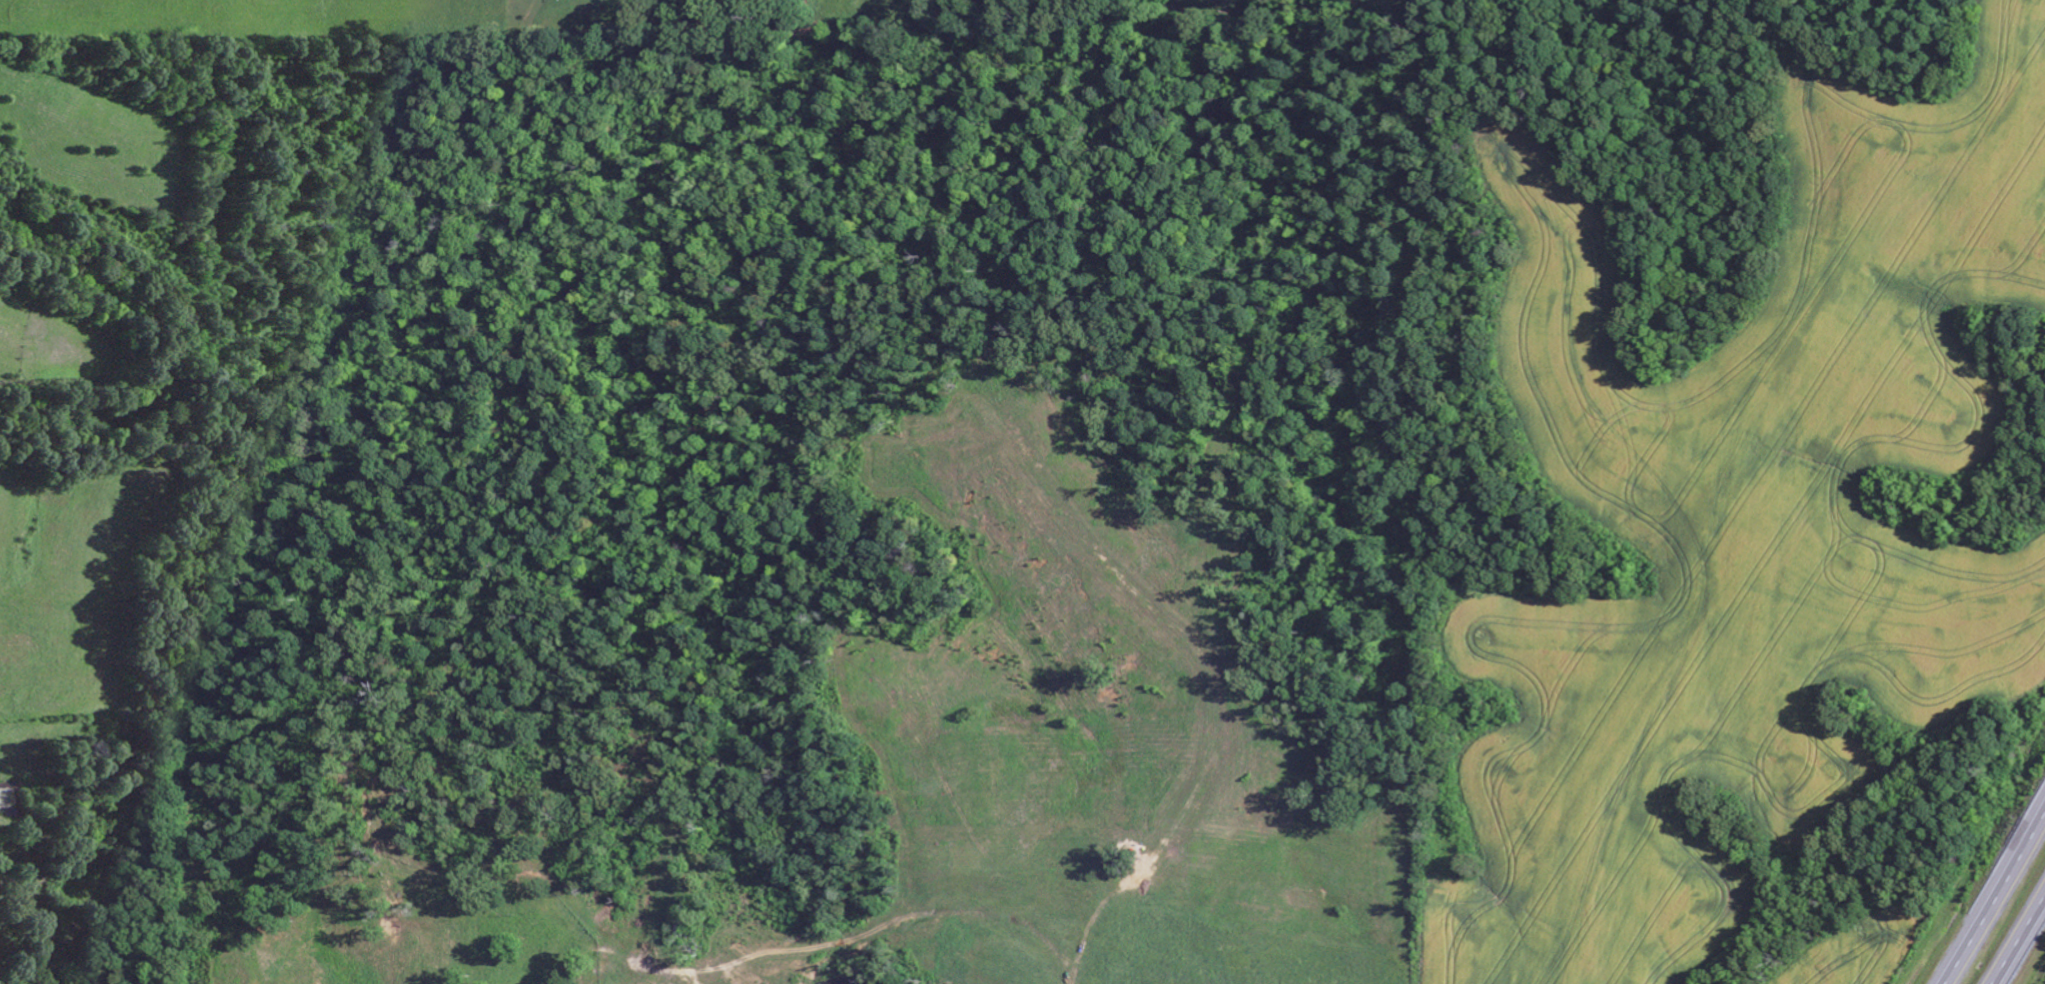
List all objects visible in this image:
road: (1994, 900)
road: (2017, 938)

